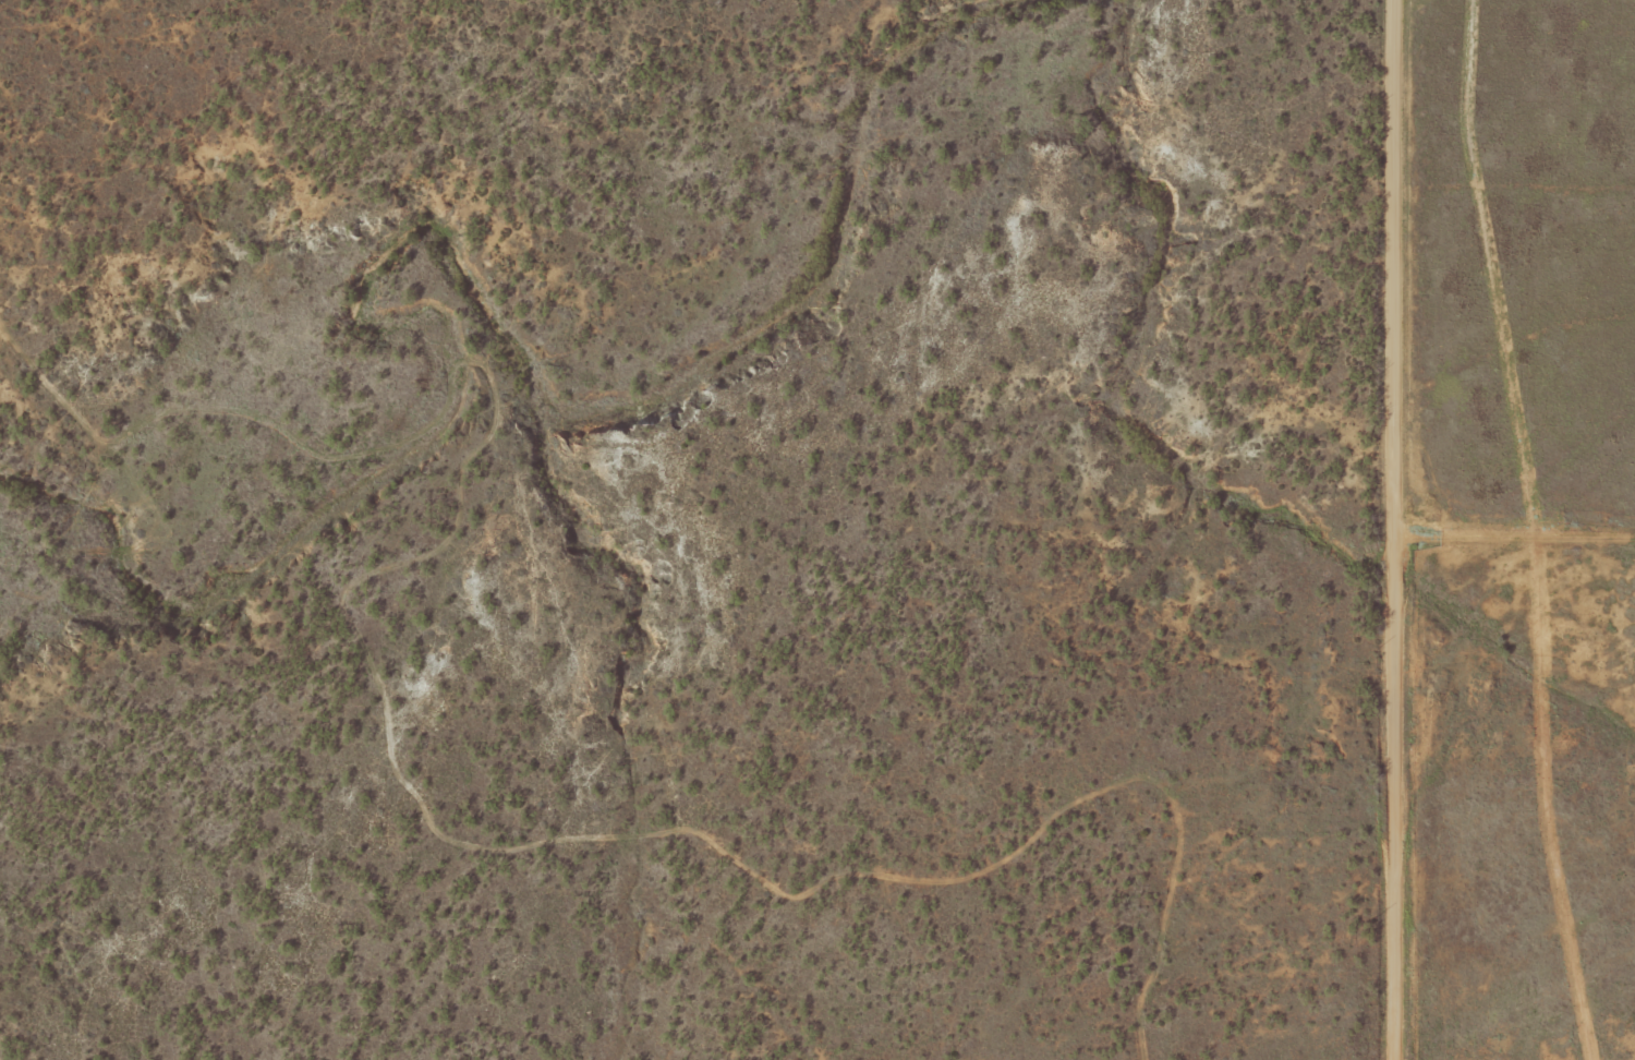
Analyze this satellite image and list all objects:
road: (1416, 529)
road: (1525, 533)

